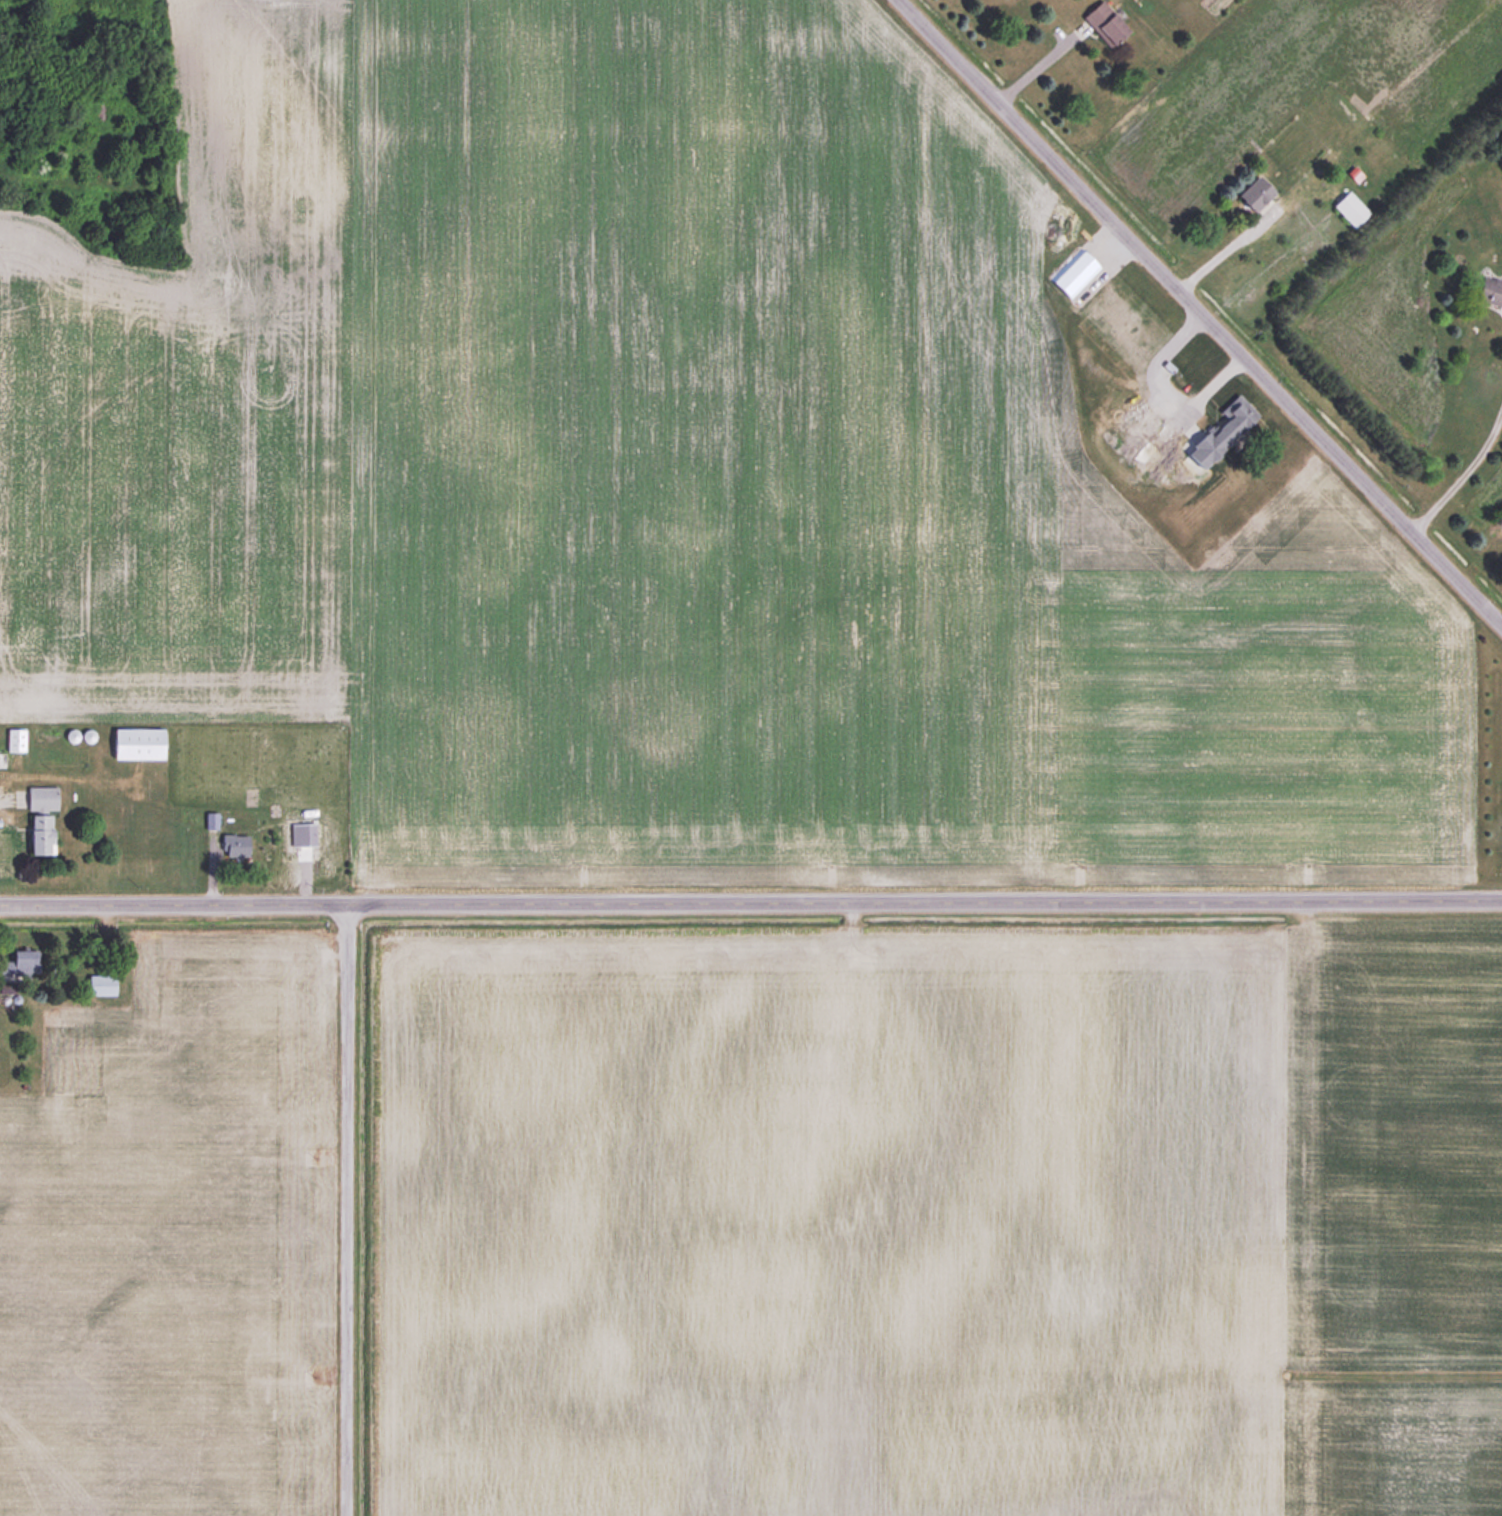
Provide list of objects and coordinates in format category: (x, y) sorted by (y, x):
building: (1104, 23)
building: (1254, 196)
building: (1350, 210)
road: (1227, 247)
building: (1074, 274)
building: (1489, 290)
road: (1202, 313)
building: (1115, 362)
building: (1148, 417)
building: (1218, 434)
building: (1152, 449)
road: (1464, 472)
building: (14, 739)
building: (135, 744)
building: (2, 760)
road: (57, 772)
building: (40, 797)
road: (3, 821)
building: (210, 821)
building: (37, 834)
building: (230, 843)
road: (750, 904)
building: (20, 962)
building: (99, 984)
road: (346, 1210)

